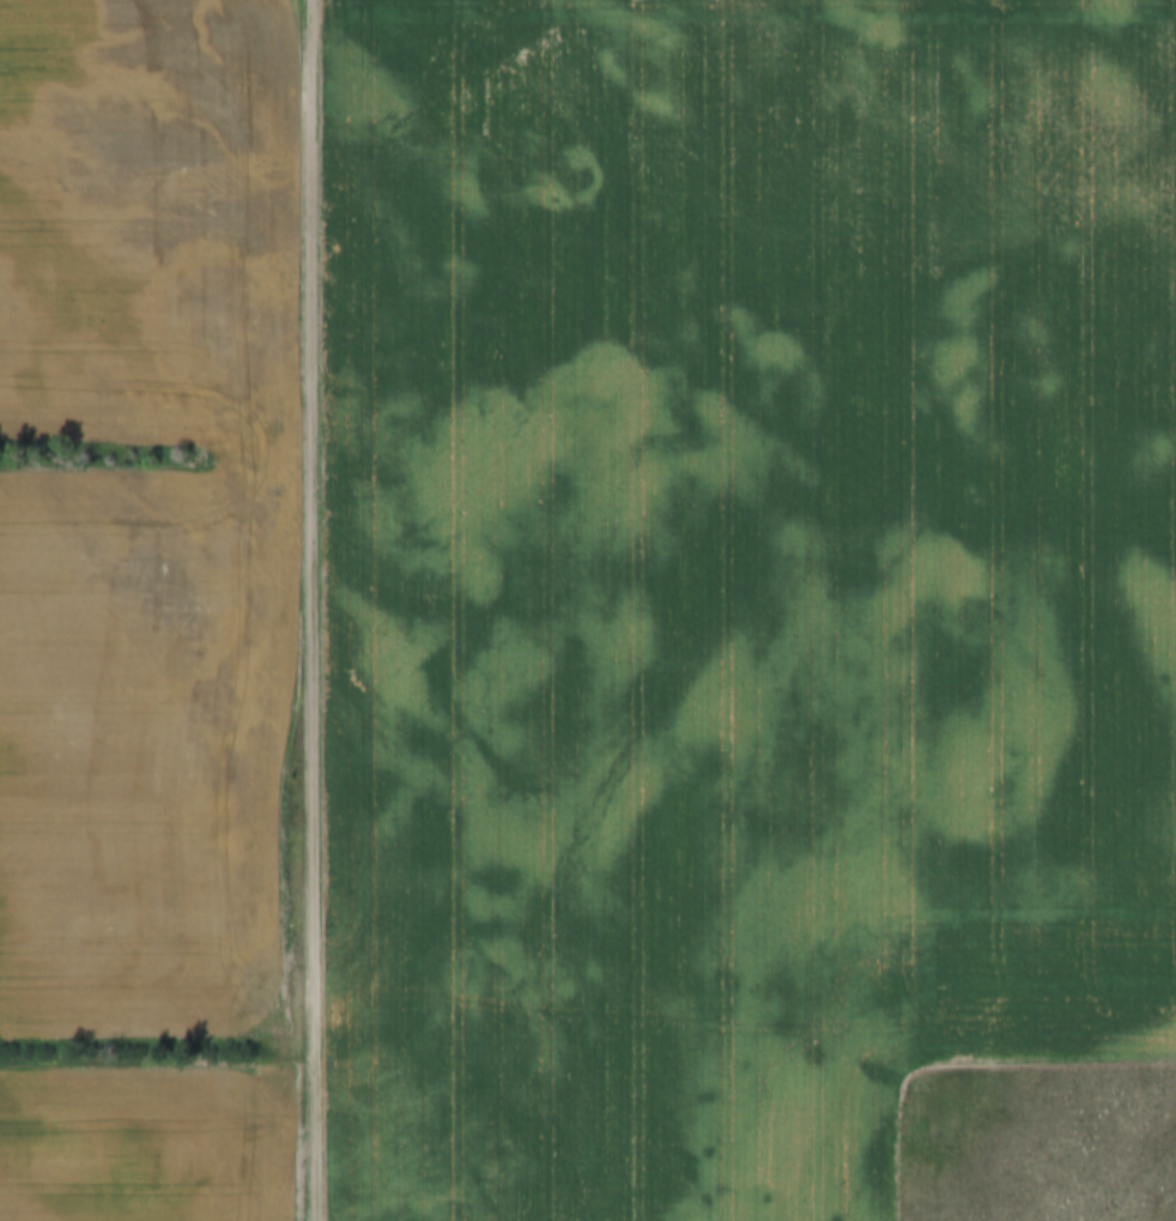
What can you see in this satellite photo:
road: (314, 610)

